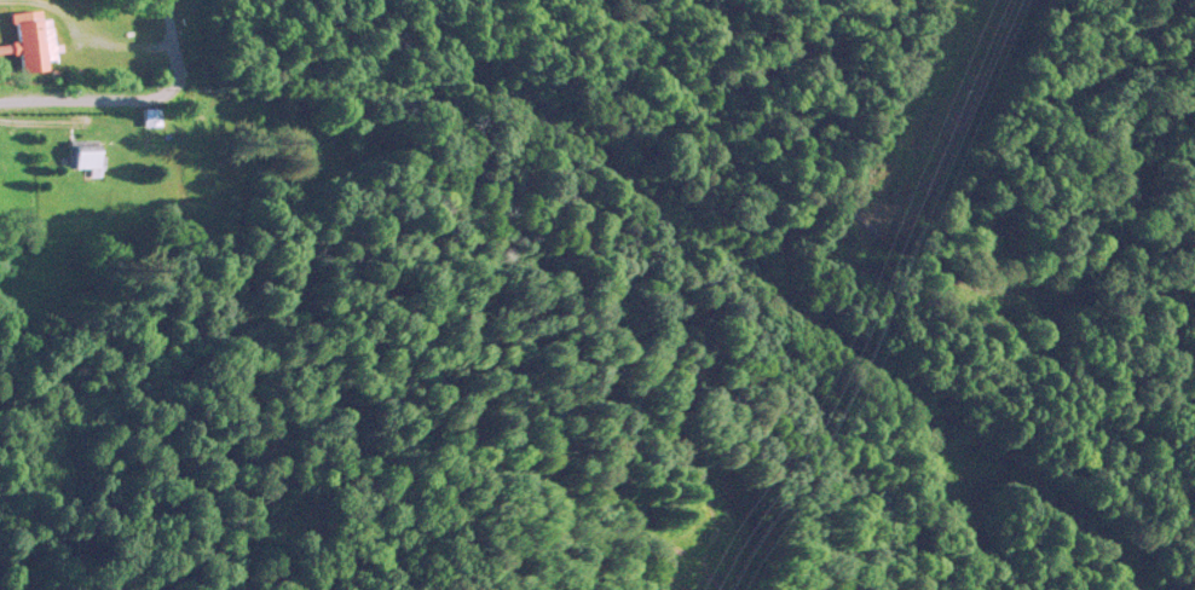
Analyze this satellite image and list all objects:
road: (104, 33)
building: (30, 39)
road: (129, 98)
building: (150, 114)
road: (42, 117)
building: (85, 152)

